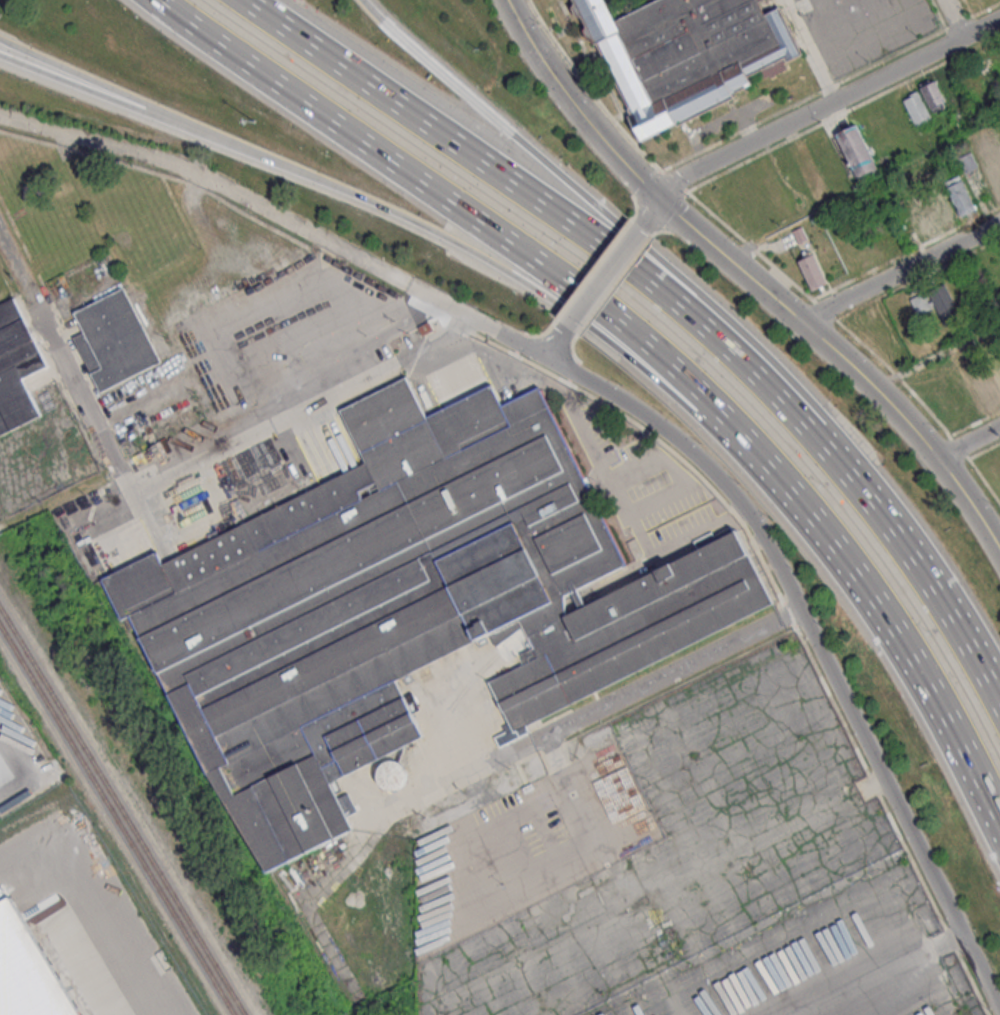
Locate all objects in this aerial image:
road: (959, 18)
building: (680, 53)
road: (78, 75)
road: (76, 87)
building: (933, 96)
road: (577, 105)
road: (826, 105)
road: (474, 107)
building: (919, 110)
street lamp: (255, 122)
building: (858, 152)
building: (967, 164)
building: (995, 179)
road: (864, 186)
traffic signals: (660, 200)
building: (963, 200)
building: (945, 206)
road: (471, 215)
road: (648, 215)
road: (280, 217)
building: (925, 220)
road: (591, 244)
road: (474, 257)
building: (815, 270)
road: (903, 272)
road: (599, 281)
building: (943, 303)
building: (921, 305)
building: (117, 338)
road: (71, 345)
road: (554, 345)
road: (846, 356)
road: (767, 357)
road: (939, 357)
road: (63, 366)
building: (14, 367)
building: (989, 388)
building: (948, 406)
road: (301, 410)
road: (633, 420)
road: (970, 443)
road: (997, 533)
building: (403, 606)
road: (952, 619)
road: (896, 632)
road: (817, 642)
road: (663, 675)
building: (391, 774)
road: (15, 784)
railway: (123, 809)
railway: (118, 818)
road: (93, 905)
building: (28, 970)

